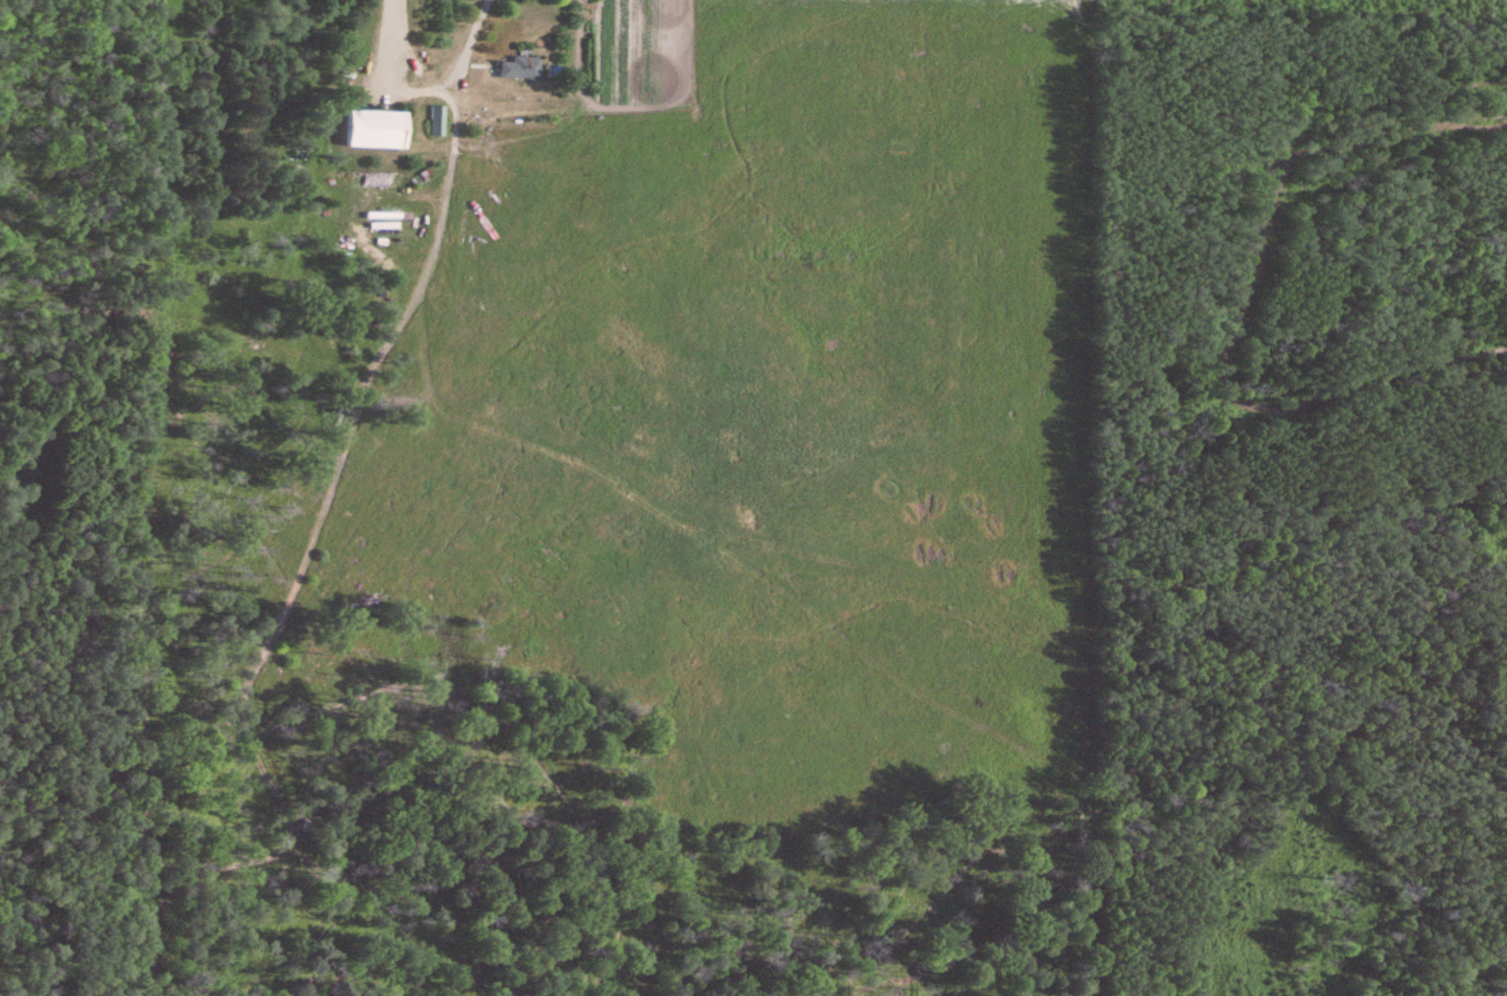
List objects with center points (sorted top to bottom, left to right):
building: (520, 66)
road: (421, 86)
building: (435, 120)
building: (376, 128)

